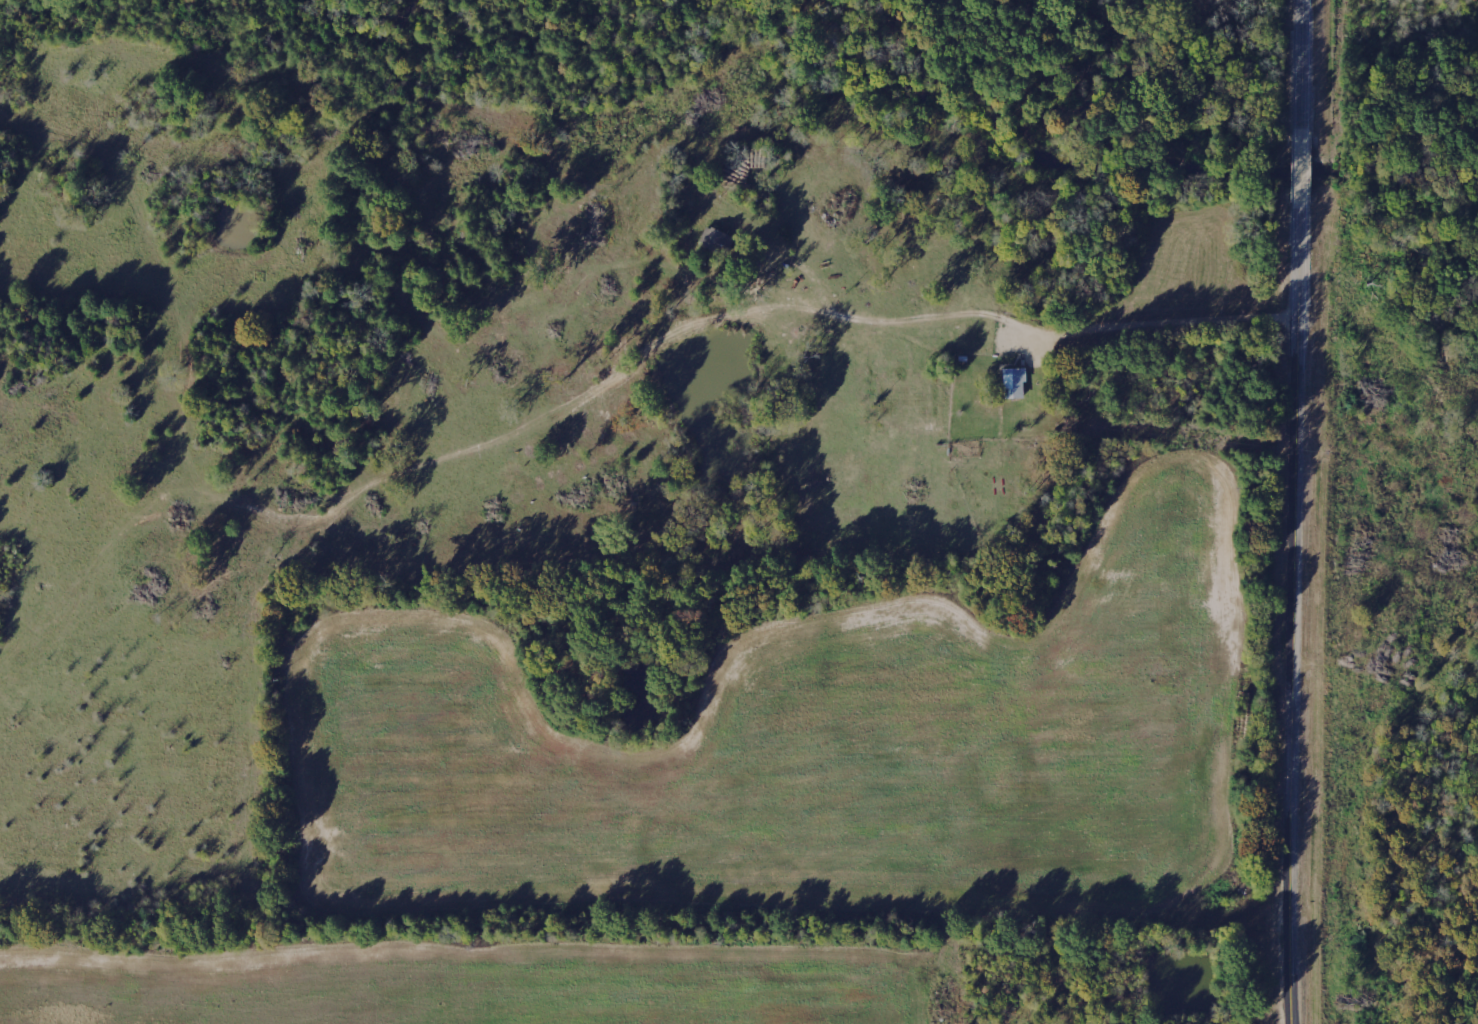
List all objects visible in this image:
building: (1014, 384)
road: (1300, 511)

